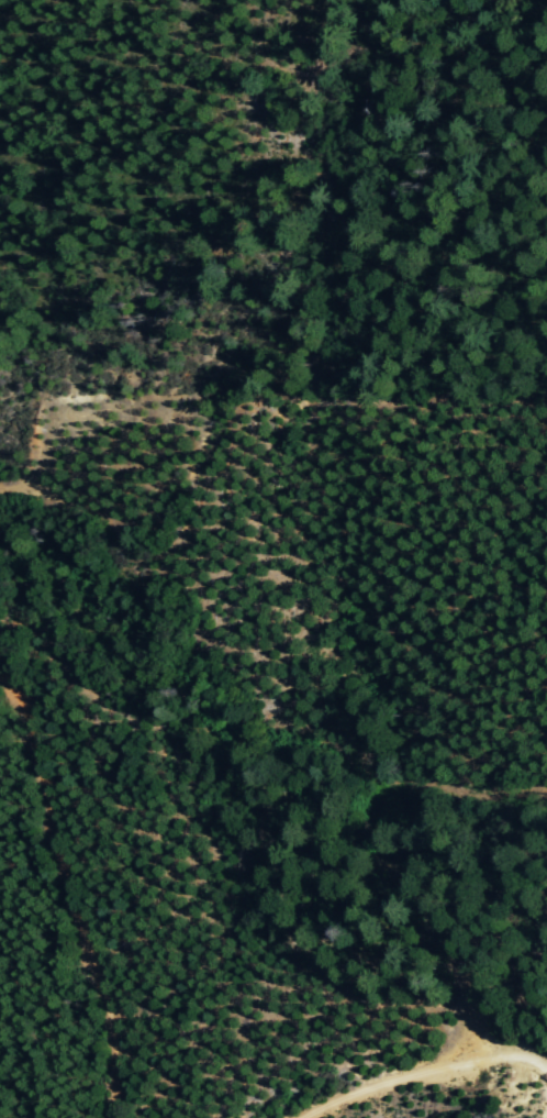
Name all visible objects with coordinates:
road: (68, 899)
road: (418, 1069)

